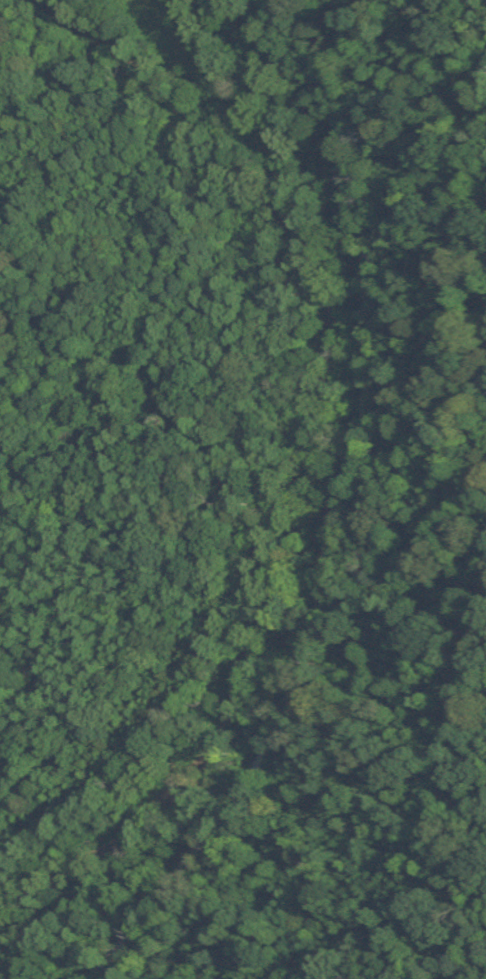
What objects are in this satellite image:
road: (353, 500)

